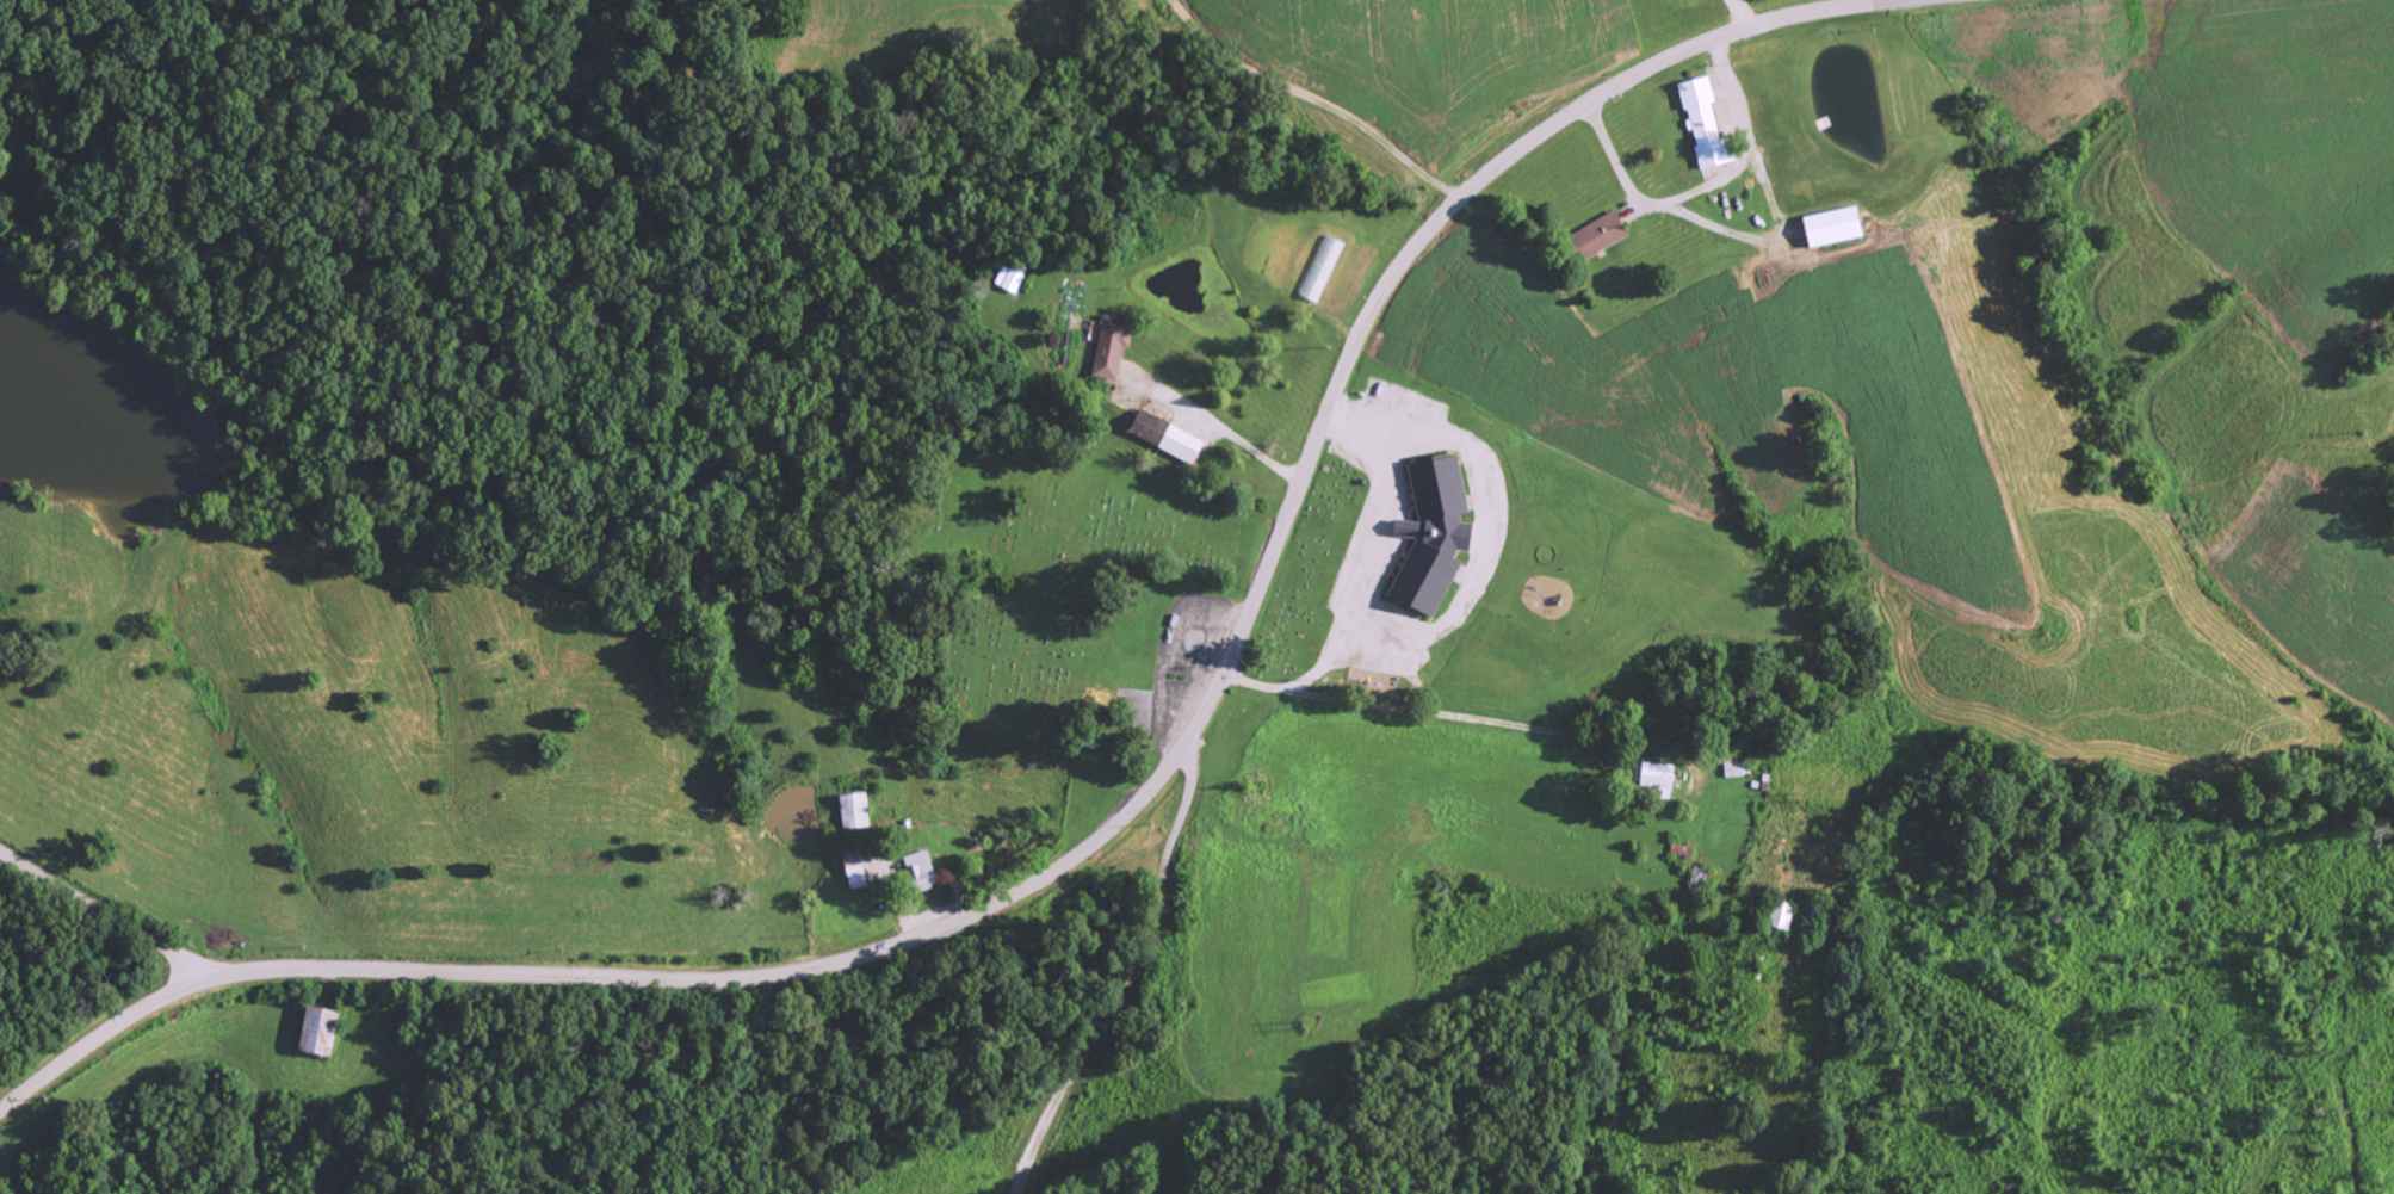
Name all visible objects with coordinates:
building: (1706, 122)
building: (1838, 225)
building: (1608, 231)
building: (1012, 276)
building: (1112, 344)
building: (1171, 435)
building: (1439, 533)
park: (1045, 571)
park: (1306, 573)
building: (1665, 775)
building: (858, 809)
road: (1115, 823)
building: (859, 865)
building: (926, 867)
building: (1703, 872)
road: (104, 911)
building: (1784, 915)
road: (1132, 966)
building: (327, 1029)

